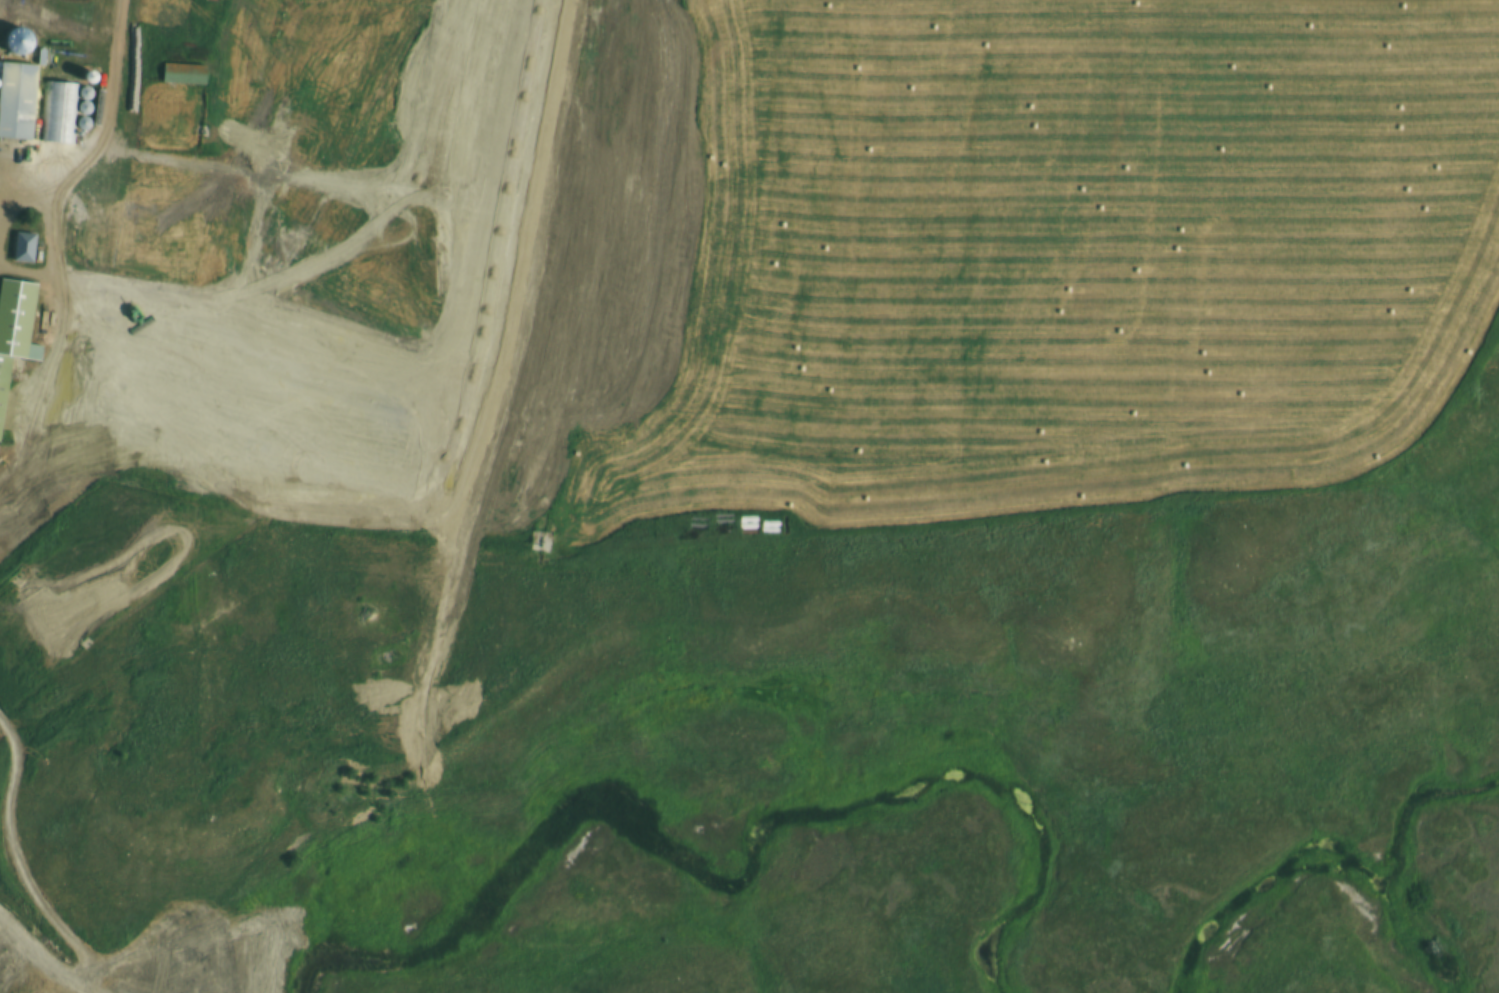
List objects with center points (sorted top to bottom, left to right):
road: (59, 32)
building: (184, 74)
building: (17, 100)
road: (104, 125)
road: (625, 184)
building: (24, 247)
building: (186, 271)
building: (15, 327)
dam: (6, 943)

